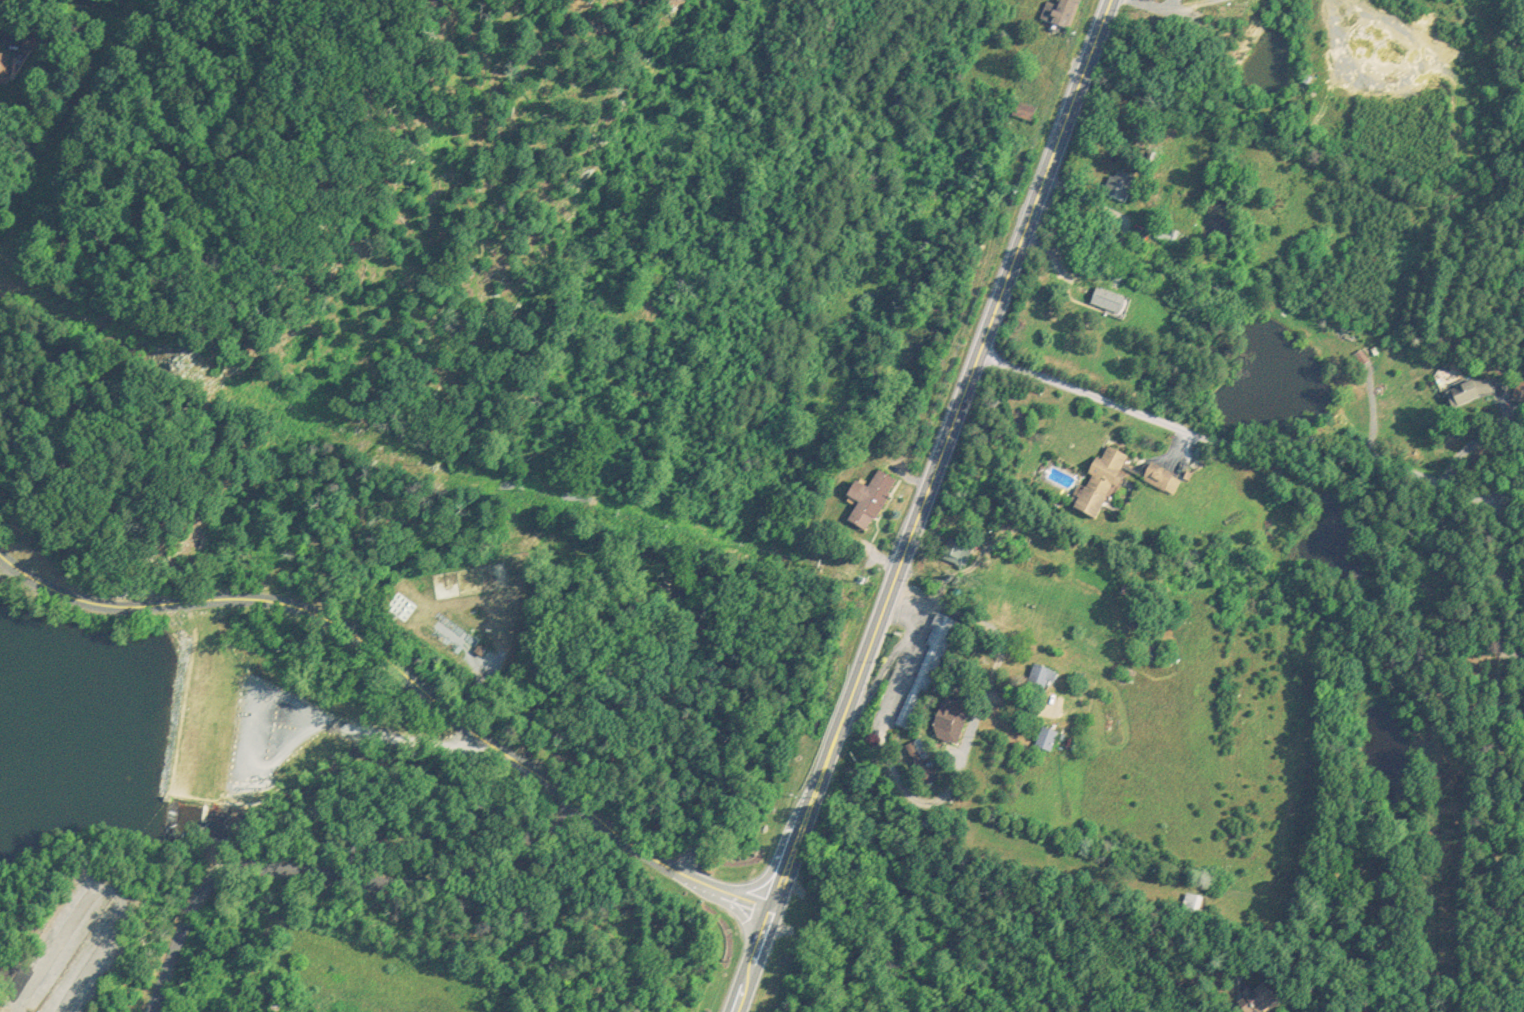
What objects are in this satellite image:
building: (1059, 10)
building: (29, 43)
building: (3, 64)
building: (1023, 107)
building: (1118, 180)
building: (1107, 297)
building: (1472, 388)
road: (1449, 446)
road: (938, 455)
building: (1161, 475)
building: (1100, 478)
building: (869, 496)
road: (1506, 498)
road: (12, 586)
road: (974, 640)
building: (480, 647)
building: (1153, 649)
building: (926, 667)
road: (404, 670)
building: (1041, 675)
dam: (228, 713)
building: (950, 716)
building: (1045, 736)
building: (922, 758)
road: (332, 879)
road: (100, 887)
building: (1191, 900)
parking lot: (72, 949)
road: (751, 961)
building: (1255, 996)

